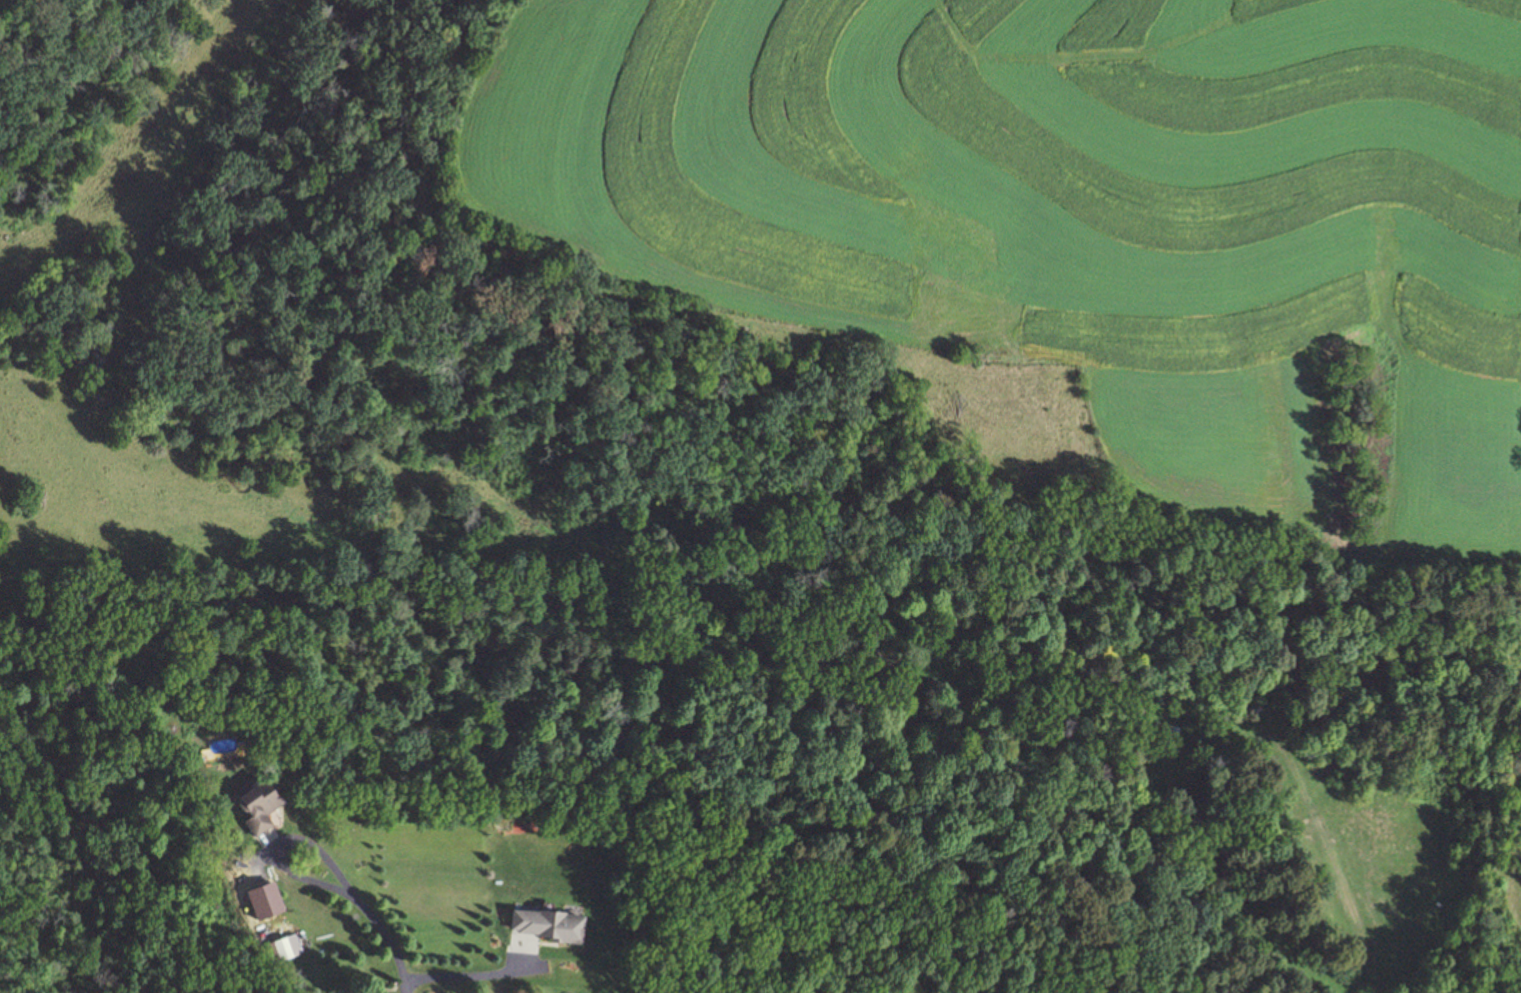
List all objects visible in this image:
building: (1172, 732)
park: (1071, 779)
building: (262, 806)
road: (1323, 838)
road: (279, 844)
building: (551, 925)
road: (385, 939)
road: (465, 976)

